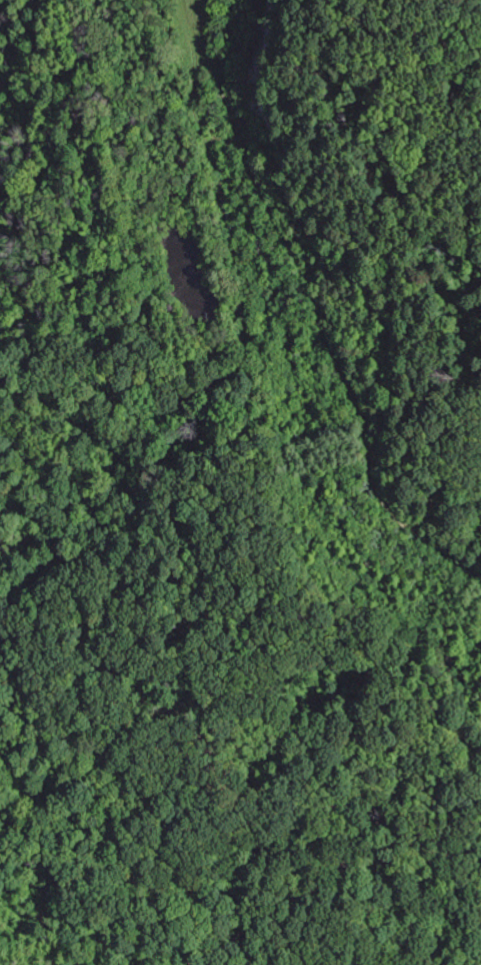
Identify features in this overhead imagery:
road: (312, 307)

